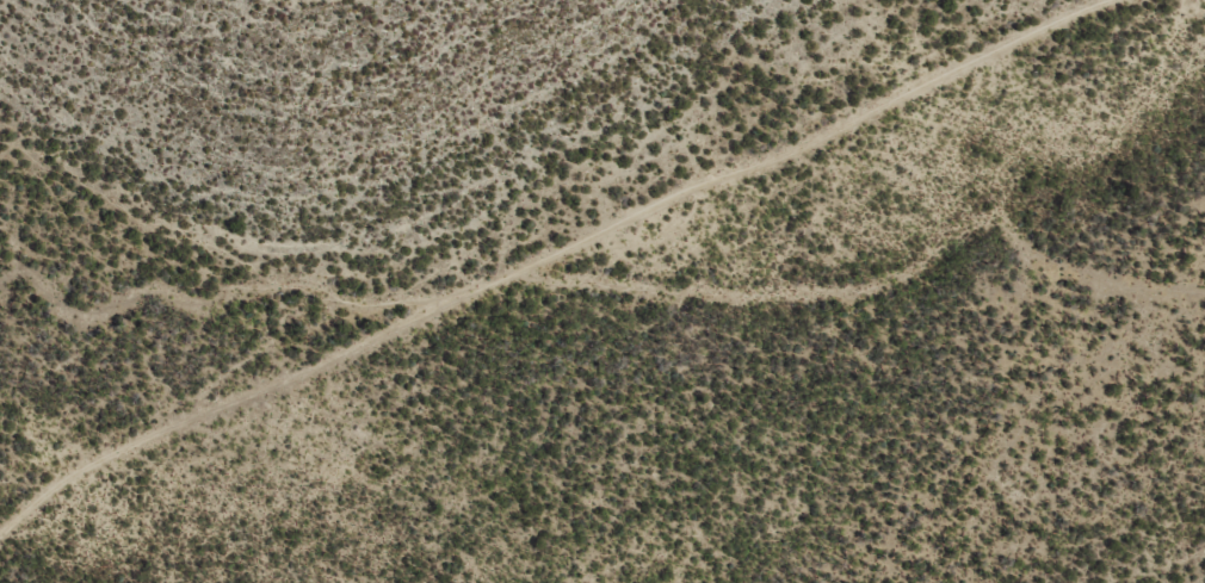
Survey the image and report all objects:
road: (570, 258)

